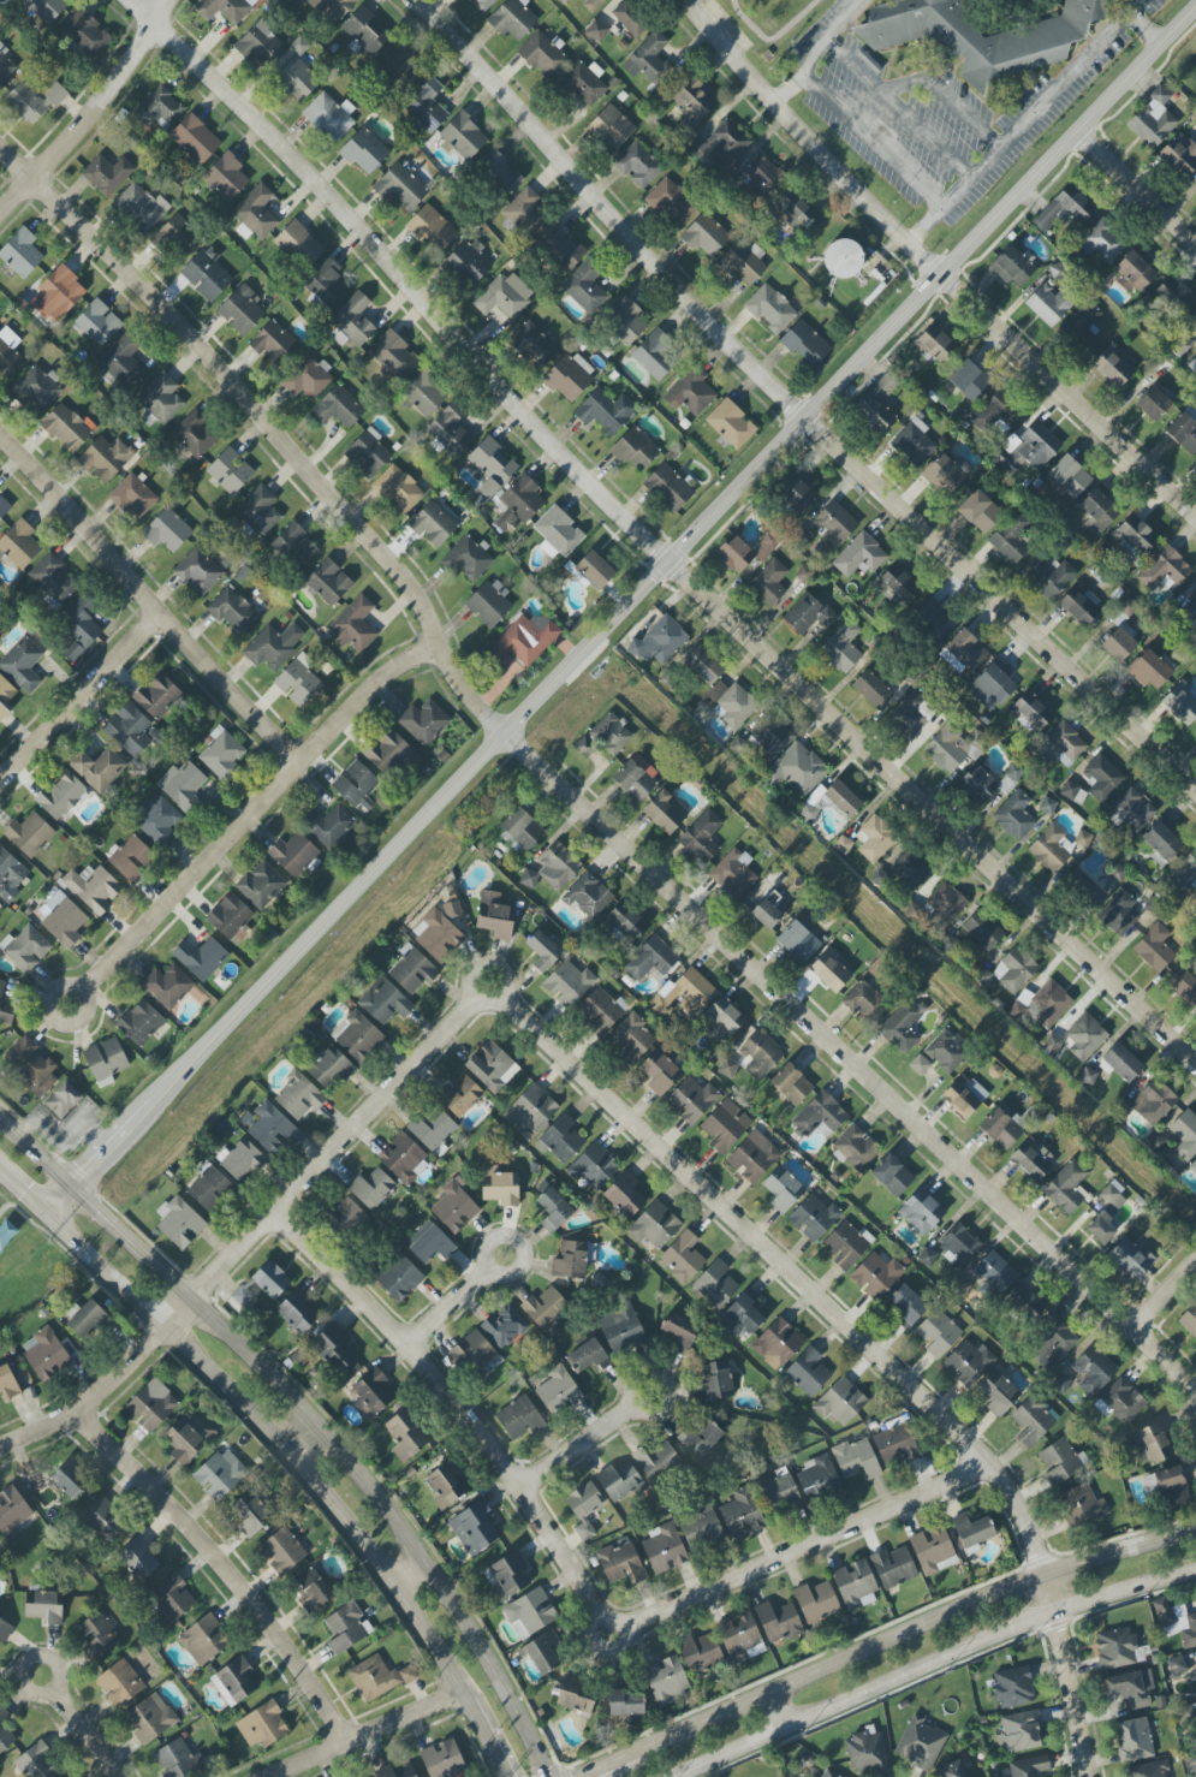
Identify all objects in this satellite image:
building: (286, 0)
building: (564, 1)
building: (482, 4)
building: (591, 5)
building: (44, 8)
building: (225, 8)
building: (332, 8)
building: (631, 18)
building: (512, 19)
park: (763, 24)
road: (1143, 29)
building: (365, 30)
building: (596, 30)
building: (85, 32)
building: (978, 36)
road: (772, 40)
building: (261, 44)
road: (816, 50)
building: (543, 55)
building: (648, 60)
building: (5, 66)
building: (399, 67)
building: (296, 79)
building: (584, 83)
road: (946, 99)
building: (34, 101)
building: (692, 103)
building: (427, 106)
road: (899, 107)
road: (87, 109)
building: (159, 109)
building: (329, 117)
building: (1153, 119)
road: (1027, 120)
building: (611, 126)
building: (463, 137)
building: (195, 139)
road: (873, 143)
building: (721, 145)
building: (364, 151)
building: (1180, 154)
building: (637, 166)
building: (107, 174)
building: (499, 174)
building: (226, 177)
building: (761, 177)
road: (1137, 184)
building: (400, 186)
building: (671, 203)
building: (141, 207)
building: (1064, 208)
building: (526, 213)
building: (255, 214)
building: (433, 228)
building: (704, 236)
building: (177, 237)
building: (1102, 242)
building: (299, 245)
building: (561, 246)
building: (22, 252)
building: (843, 258)
building: (468, 263)
building: (740, 263)
road: (935, 265)
building: (1013, 267)
building: (1133, 271)
building: (207, 274)
building: (325, 285)
building: (585, 287)
building: (59, 293)
building: (504, 296)
building: (1173, 297)
building: (1049, 303)
building: (770, 309)
building: (242, 310)
building: (353, 320)
building: (624, 321)
building: (97, 322)
building: (1082, 326)
building: (1192, 326)
building: (273, 344)
building: (534, 344)
building: (805, 344)
building: (935, 346)
building: (654, 355)
building: (394, 357)
building: (7, 359)
building: (124, 361)
building: (1112, 365)
building: (570, 376)
building: (305, 379)
building: (970, 381)
building: (36, 388)
building: (690, 392)
building: (422, 394)
building: (160, 400)
building: (877, 404)
building: (1153, 404)
road: (792, 405)
building: (338, 408)
building: (605, 411)
building: (995, 414)
building: (731, 424)
building: (66, 427)
building: (450, 430)
building: (1184, 430)
building: (195, 434)
building: (912, 442)
building: (1027, 447)
building: (635, 448)
building: (368, 453)
building: (105, 458)
building: (1195, 463)
building: (492, 466)
building: (230, 471)
building: (946, 473)
building: (1070, 476)
building: (668, 488)
building: (398, 489)
building: (797, 492)
building: (133, 497)
building: (518, 504)
building: (4, 507)
building: (258, 511)
building: (980, 511)
building: (1099, 512)
building: (434, 524)
building: (834, 525)
building: (167, 530)
building: (558, 533)
building: (1135, 536)
building: (1008, 540)
road: (649, 542)
building: (19, 546)
building: (293, 546)
building: (766, 547)
building: (734, 554)
building: (859, 555)
building: (466, 559)
building: (1164, 569)
building: (593, 570)
building: (198, 571)
building: (1051, 577)
building: (52, 580)
building: (328, 582)
building: (769, 583)
building: (898, 584)
road: (145, 601)
building: (489, 604)
building: (1079, 605)
building: (1192, 607)
road: (621, 610)
building: (232, 612)
building: (809, 617)
building: (933, 620)
building: (1194, 624)
building: (353, 625)
building: (79, 628)
building: (659, 641)
building: (523, 643)
building: (1118, 644)
building: (273, 646)
building: (841, 648)
building: (963, 653)
building: (23, 665)
building: (703, 665)
building: (1150, 670)
building: (297, 683)
building: (993, 685)
building: (871, 690)
building: (5, 696)
building: (157, 696)
road: (79, 699)
building: (1182, 702)
building: (725, 706)
building: (1030, 712)
building: (911, 715)
building: (424, 721)
building: (130, 731)
building: (605, 736)
building: (772, 739)
building: (1060, 745)
building: (947, 750)
building: (391, 753)
building: (221, 754)
building: (97, 768)
building: (796, 771)
building: (1012, 774)
building: (1101, 778)
building: (636, 779)
building: (977, 784)
building: (183, 786)
building: (357, 786)
building: (1069, 790)
building: (60, 795)
road: (567, 796)
building: (841, 800)
building: (1047, 806)
road: (251, 810)
building: (1133, 810)
building: (666, 812)
building: (1014, 816)
building: (159, 821)
building: (328, 827)
building: (519, 830)
building: (29, 834)
building: (702, 837)
building: (875, 838)
building: (1082, 838)
building: (1162, 842)
building: (843, 845)
building: (1049, 849)
building: (293, 855)
building: (131, 857)
building: (553, 868)
building: (910, 869)
building: (733, 873)
building: (1184, 874)
building: (10, 875)
building: (261, 885)
building: (91, 887)
building: (1082, 887)
building: (588, 896)
building: (946, 902)
building: (452, 910)
building: (766, 914)
building: (1118, 914)
building: (495, 916)
building: (231, 919)
building: (64, 920)
building: (624, 923)
building: (982, 931)
building: (439, 938)
building: (798, 941)
building: (25, 949)
building: (1154, 949)
building: (543, 951)
building: (201, 958)
building: (650, 959)
road: (486, 968)
building: (412, 970)
building: (832, 970)
building: (1014, 970)
building: (569, 983)
building: (167, 986)
building: (1184, 986)
building: (1, 987)
road: (79, 994)
building: (685, 994)
building: (385, 1003)
building: (863, 1003)
building: (1048, 1004)
building: (601, 1010)
building: (6, 1012)
building: (722, 1017)
building: (141, 1023)
building: (903, 1026)
building: (357, 1036)
building: (1085, 1036)
building: (631, 1039)
building: (945, 1053)
building: (760, 1054)
building: (106, 1060)
building: (1121, 1063)
building: (920, 1065)
building: (30, 1066)
building: (492, 1066)
building: (331, 1068)
building: (660, 1072)
building: (790, 1086)
building: (964, 1095)
building: (298, 1096)
building: (460, 1096)
building: (63, 1100)
building: (691, 1100)
building: (1153, 1103)
building: (531, 1110)
building: (820, 1116)
building: (725, 1125)
building: (270, 1128)
building: (1000, 1129)
building: (433, 1130)
building: (1185, 1135)
building: (561, 1140)
building: (855, 1148)
building: (752, 1157)
building: (242, 1160)
building: (404, 1160)
building: (1030, 1160)
building: (593, 1166)
building: (1194, 1167)
building: (892, 1176)
building: (1066, 1187)
building: (500, 1188)
building: (371, 1189)
building: (783, 1189)
road: (23, 1190)
building: (625, 1195)
building: (454, 1207)
building: (553, 1210)
building: (921, 1212)
building: (1106, 1213)
building: (814, 1218)
building: (179, 1222)
building: (654, 1225)
building: (7, 1235)
road: (252, 1235)
building: (846, 1244)
building: (432, 1246)
building: (958, 1246)
building: (683, 1256)
building: (1131, 1259)
building: (570, 1261)
road: (488, 1265)
road: (79, 1268)
building: (994, 1273)
building: (876, 1274)
building: (398, 1277)
building: (270, 1279)
building: (716, 1284)
road: (1166, 1297)
building: (238, 1298)
building: (1024, 1302)
building: (906, 1304)
road: (448, 1307)
building: (297, 1311)
building: (546, 1311)
building: (743, 1313)
building: (88, 1320)
building: (1189, 1320)
building: (504, 1327)
building: (621, 1329)
building: (679, 1331)
building: (938, 1333)
road: (861, 1342)
building: (776, 1344)
building: (1052, 1344)
building: (334, 1348)
building: (46, 1355)
building: (476, 1356)
building: (588, 1357)
building: (968, 1363)
building: (1094, 1371)
building: (808, 1372)
building: (715, 1381)
building: (1060, 1383)
building: (7, 1384)
building: (558, 1391)
building: (371, 1393)
building: (999, 1393)
building: (840, 1402)
building: (1120, 1402)
building: (151, 1405)
road: (458, 1408)
road: (647, 1414)
road: (313, 1418)
building: (519, 1419)
building: (1033, 1420)
road: (298, 1433)
building: (405, 1436)
building: (703, 1438)
road: (275, 1439)
building: (1152, 1443)
building: (895, 1444)
road: (576, 1446)
building: (856, 1460)
building: (656, 1461)
building: (1059, 1462)
building: (220, 1474)
building: (817, 1478)
building: (69, 1480)
building: (621, 1482)
building: (446, 1484)
building: (1171, 1486)
building: (38, 1491)
building: (779, 1491)
building: (1082, 1505)
building: (584, 1508)
building: (12, 1512)
building: (742, 1514)
building: (250, 1515)
building: (103, 1520)
building: (703, 1526)
building: (474, 1528)
building: (971, 1532)
road: (803, 1547)
building: (664, 1549)
building: (933, 1550)
building: (282, 1551)
building: (138, 1557)
building: (620, 1562)
road: (225, 1565)
building: (893, 1568)
road: (406, 1575)
building: (510, 1575)
building: (855, 1586)
building: (313, 1592)
building: (171, 1599)
building: (816, 1601)
building: (43, 1607)
building: (529, 1612)
building: (778, 1621)
building: (1177, 1622)
building: (346, 1628)
road: (912, 1629)
building: (5, 1630)
building: (97, 1635)
building: (739, 1638)
building: (202, 1642)
building: (1115, 1647)
building: (701, 1653)
building: (543, 1654)
road: (25, 1663)
road: (933, 1664)
building: (1177, 1665)
building: (377, 1677)
building: (667, 1681)
building: (234, 1682)
building: (119, 1683)
building: (1012, 1688)
building: (1130, 1688)
building: (576, 1694)
building: (624, 1704)
road: (776, 1711)
building: (150, 1718)
building: (262, 1725)
building: (5, 1731)
road: (87, 1733)
building: (1018, 1733)
road: (367, 1735)
road: (486, 1739)
building: (1133, 1740)
building: (921, 1743)
building: (865, 1752)
building: (442, 1759)
building: (175, 1760)
building: (1190, 1761)
building: (37, 1763)
road: (608, 1764)
building: (1030, 1767)
building: (952, 1770)
building: (1148, 1770)
building: (395, 1772)
building: (827, 1775)
building: (810, 1776)

